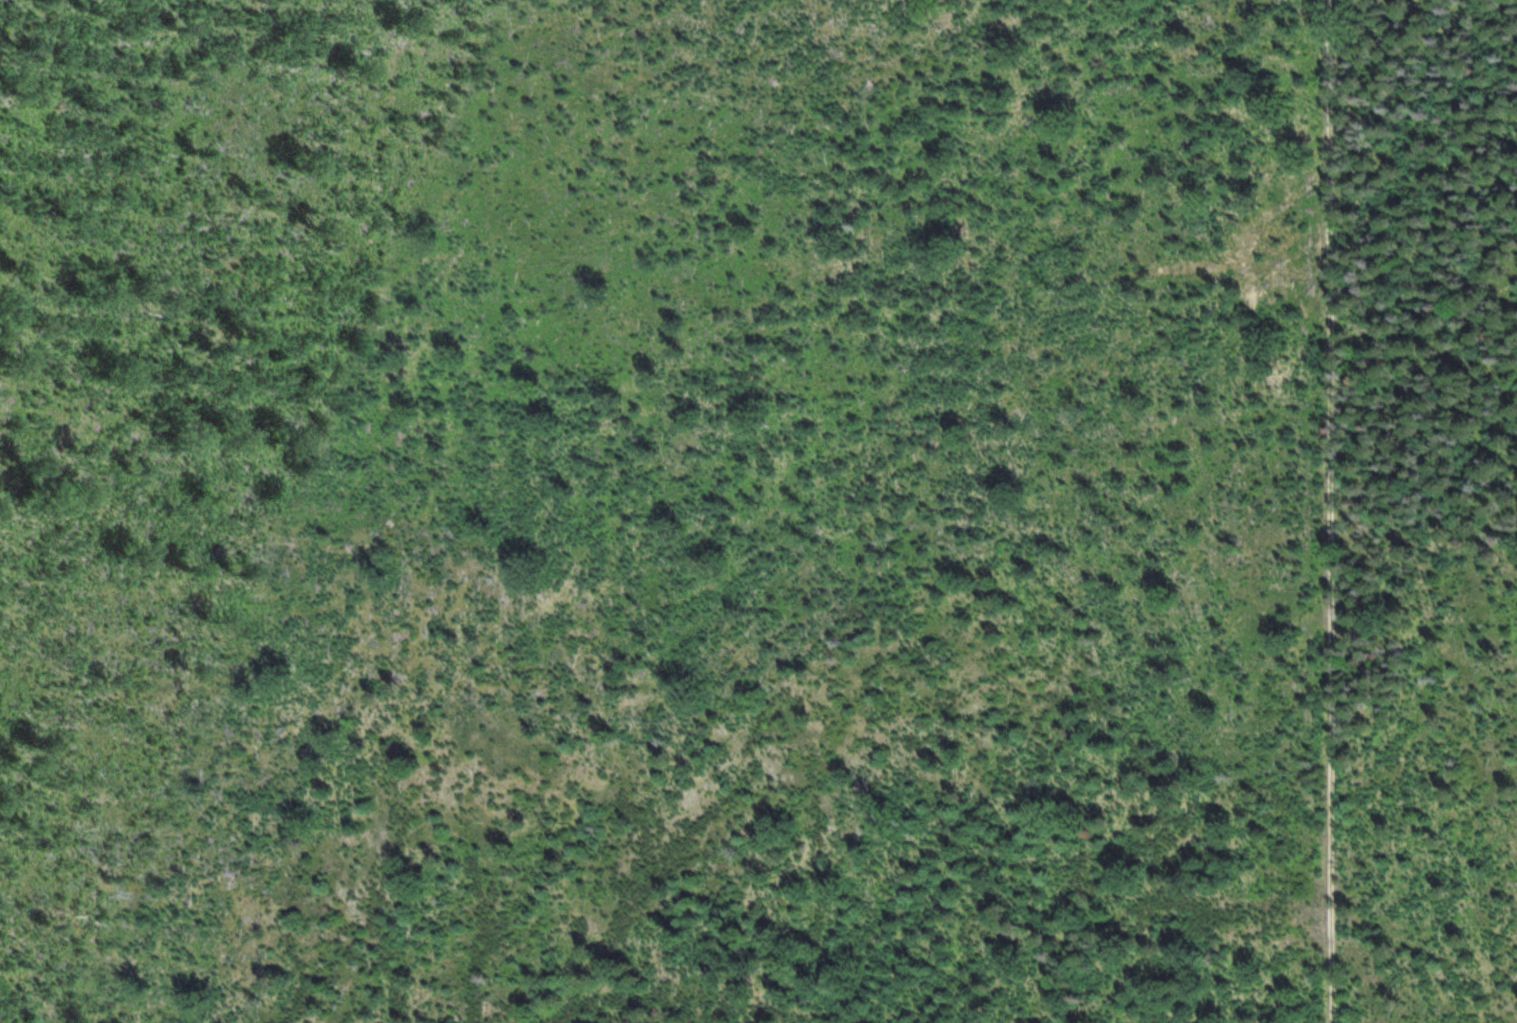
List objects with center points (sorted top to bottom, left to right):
road: (59, 267)
road: (1327, 511)

